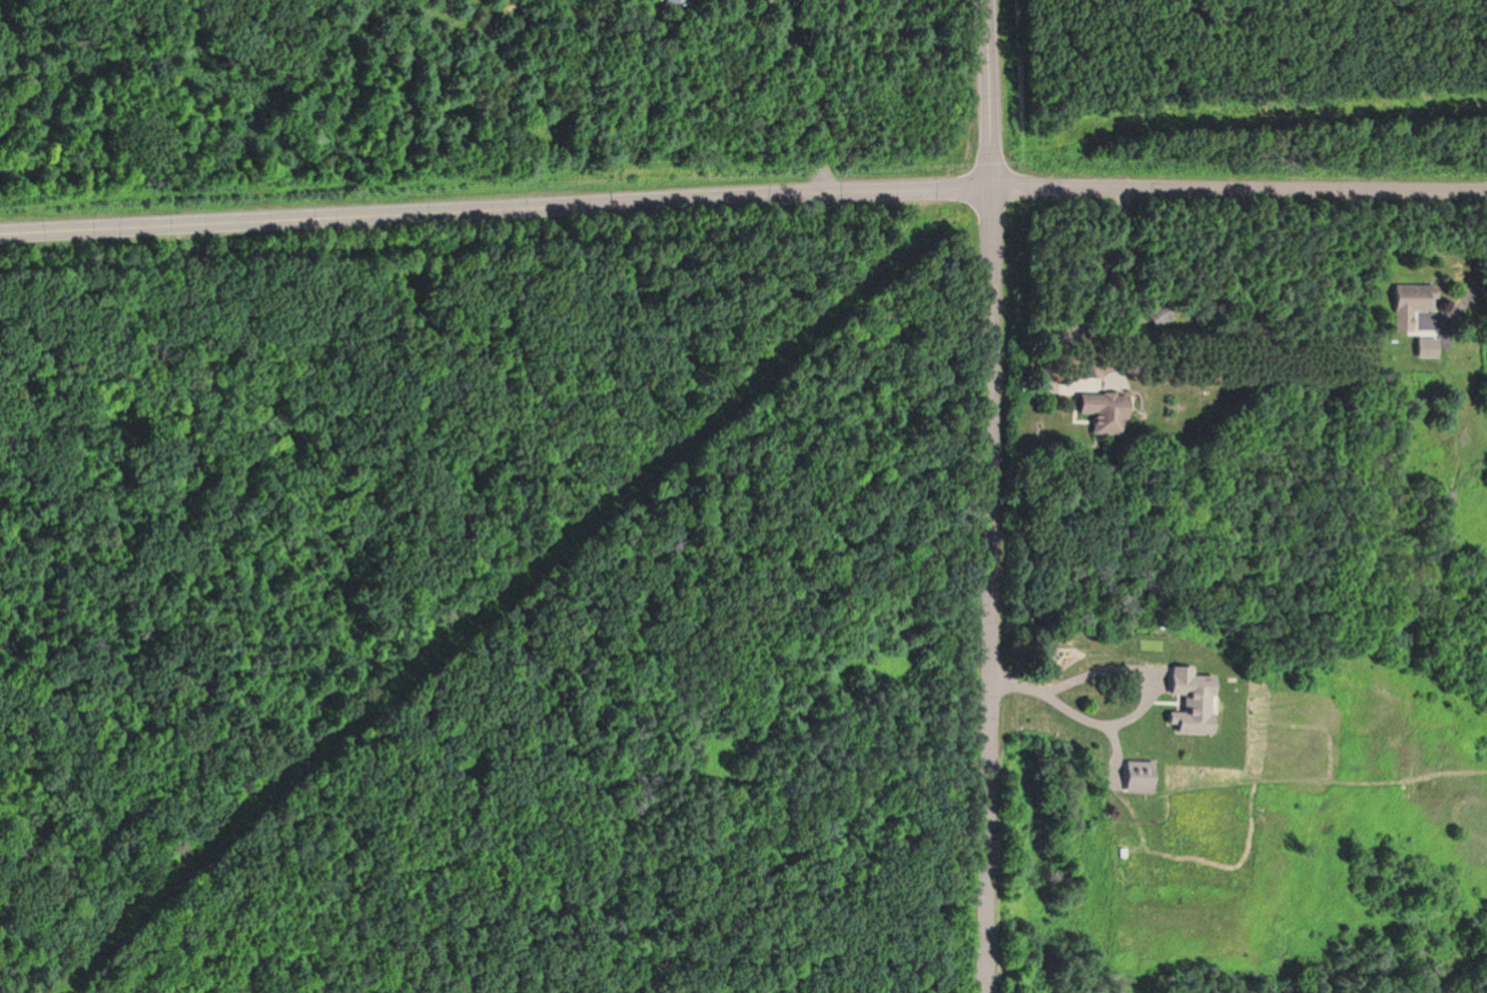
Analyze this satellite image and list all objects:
building: (675, 2)
road: (743, 196)
building: (1410, 302)
building: (1099, 417)
road: (991, 496)
road: (1137, 671)
building: (1187, 700)
building: (1132, 777)

